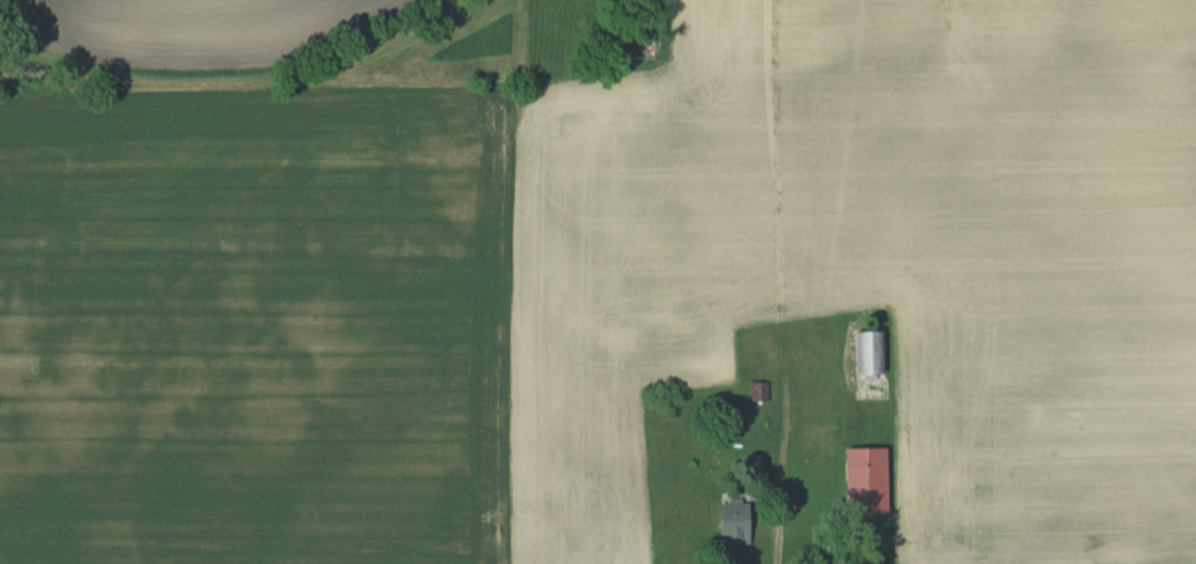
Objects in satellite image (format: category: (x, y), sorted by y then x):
building: (863, 368)
building: (858, 480)
building: (724, 525)

